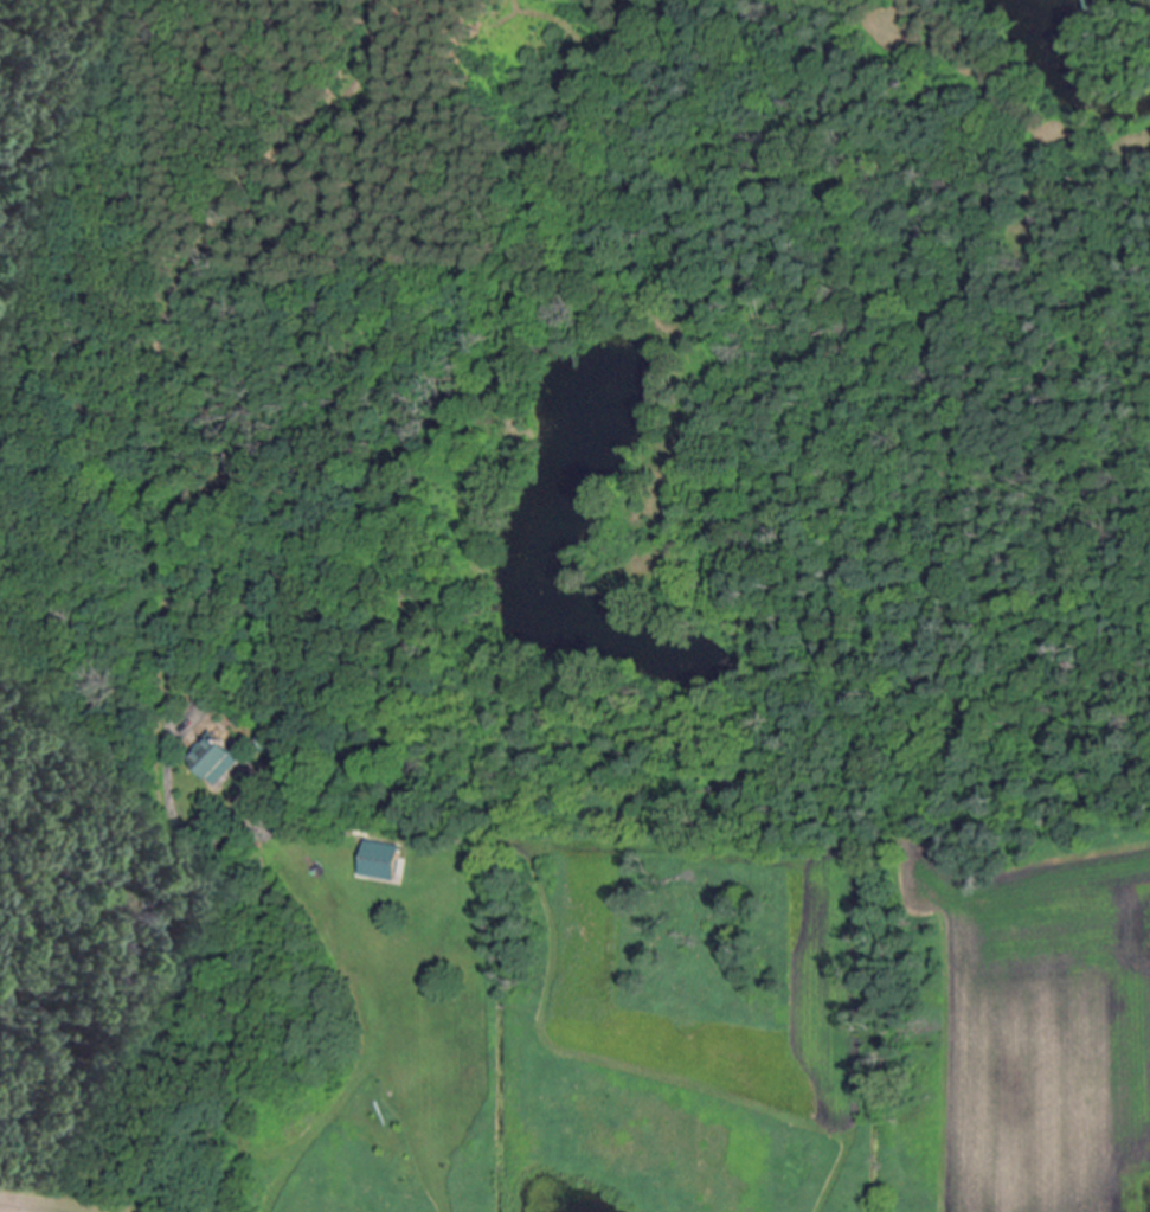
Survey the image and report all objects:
building: (275, 745)
building: (213, 759)

